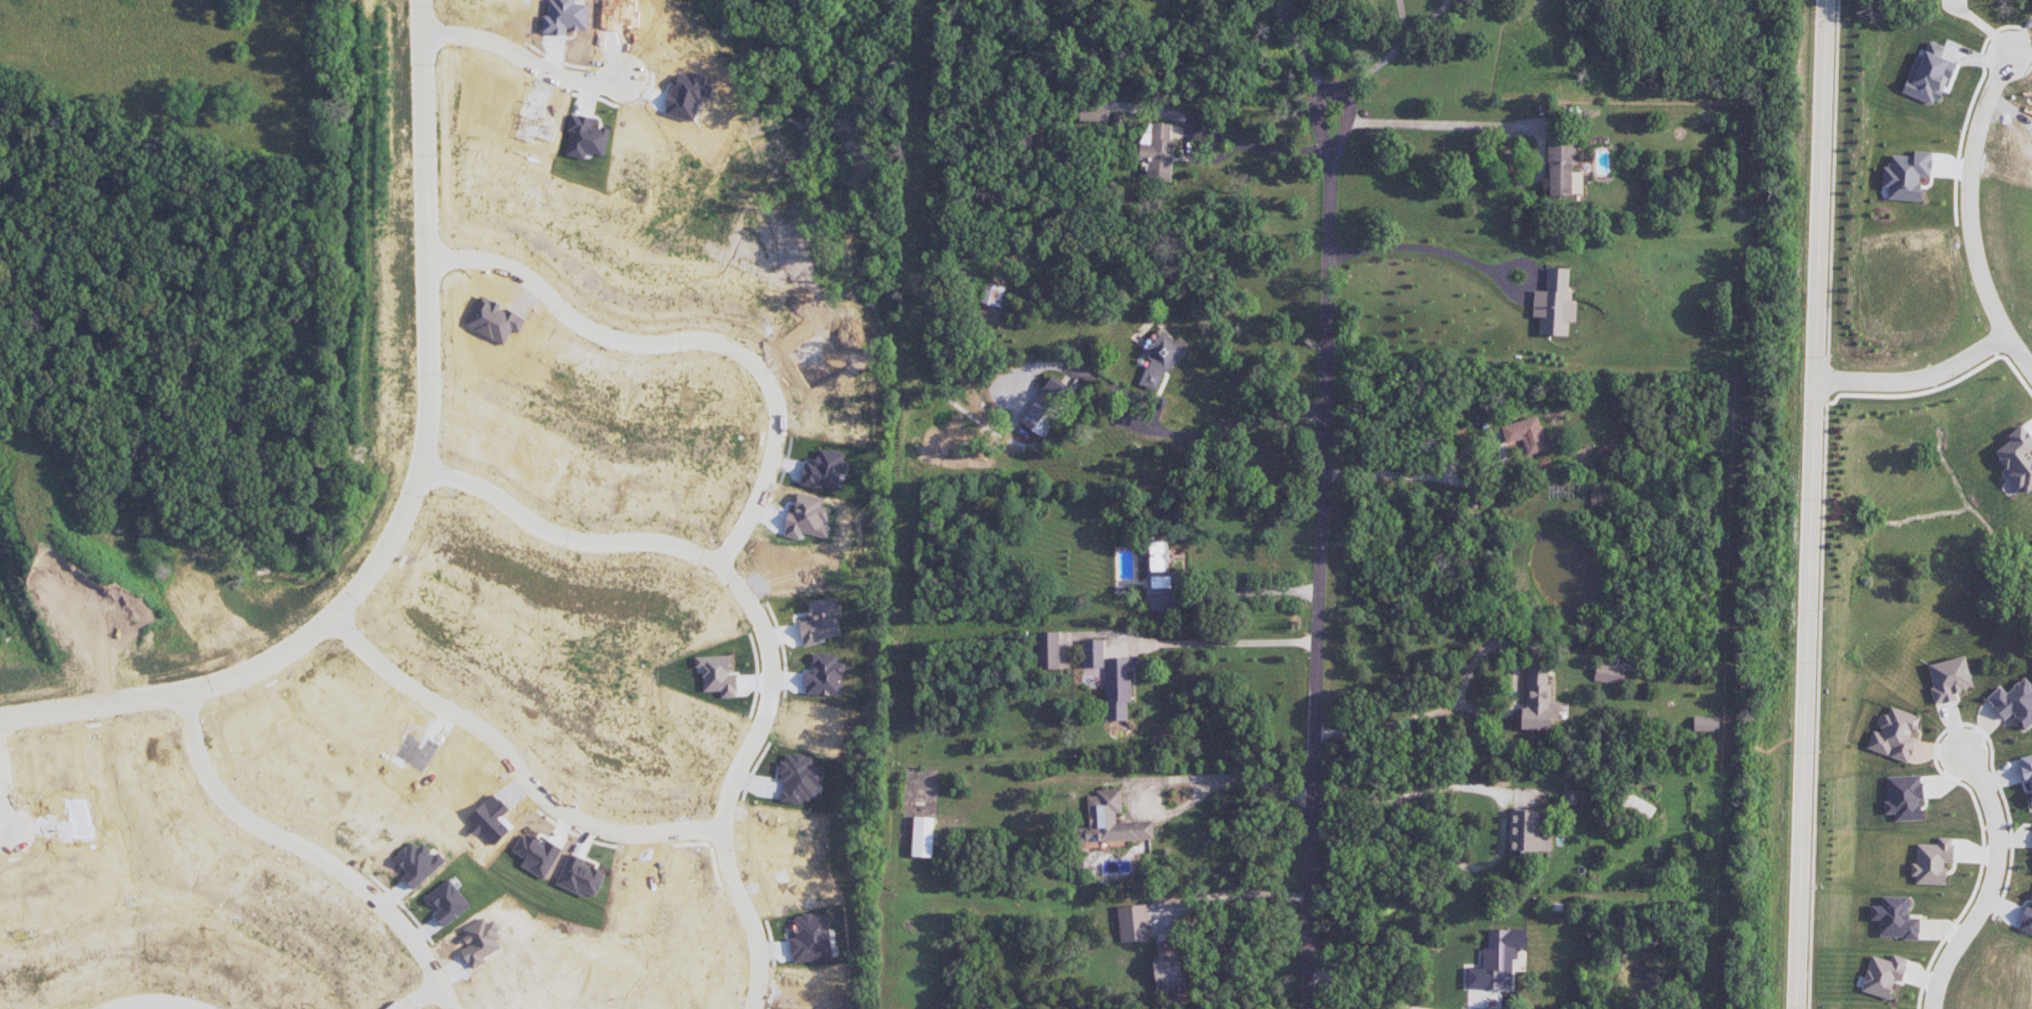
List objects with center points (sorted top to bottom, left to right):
road: (1278, 9)
road: (1286, 9)
road: (1401, 18)
road: (1425, 20)
road: (2021, 34)
road: (1306, 55)
road: (524, 57)
road: (1374, 67)
road: (1330, 90)
building: (1092, 112)
road: (1437, 123)
road: (1220, 136)
building: (1157, 152)
building: (1563, 170)
road: (1969, 215)
road: (1464, 258)
building: (992, 294)
building: (1554, 303)
road: (690, 342)
building: (1161, 359)
road: (1915, 378)
building: (1058, 391)
building: (1041, 416)
road: (1172, 436)
building: (1526, 436)
building: (2018, 458)
road: (1464, 482)
building: (1597, 495)
road: (413, 497)
road: (1811, 504)
building: (1159, 567)
road: (1320, 580)
road: (1242, 592)
road: (761, 629)
road: (1227, 643)
building: (1048, 650)
building: (1093, 653)
building: (1609, 673)
road: (1467, 674)
building: (1948, 679)
building: (1117, 689)
building: (1538, 702)
building: (2014, 703)
building: (1706, 723)
building: (1895, 735)
road: (513, 762)
building: (2027, 770)
road: (1172, 778)
road: (1498, 795)
building: (1570, 796)
road: (5, 797)
building: (1904, 797)
building: (1637, 808)
building: (1110, 820)
building: (1526, 832)
building: (922, 836)
road: (308, 850)
building: (1932, 861)
road: (1991, 884)
road: (1227, 895)
building: (1895, 918)
building: (2026, 921)
building: (1132, 923)
building: (1497, 959)
building: (1168, 967)
building: (1883, 975)
road: (1356, 989)
road: (421, 998)
road: (150, 1004)

